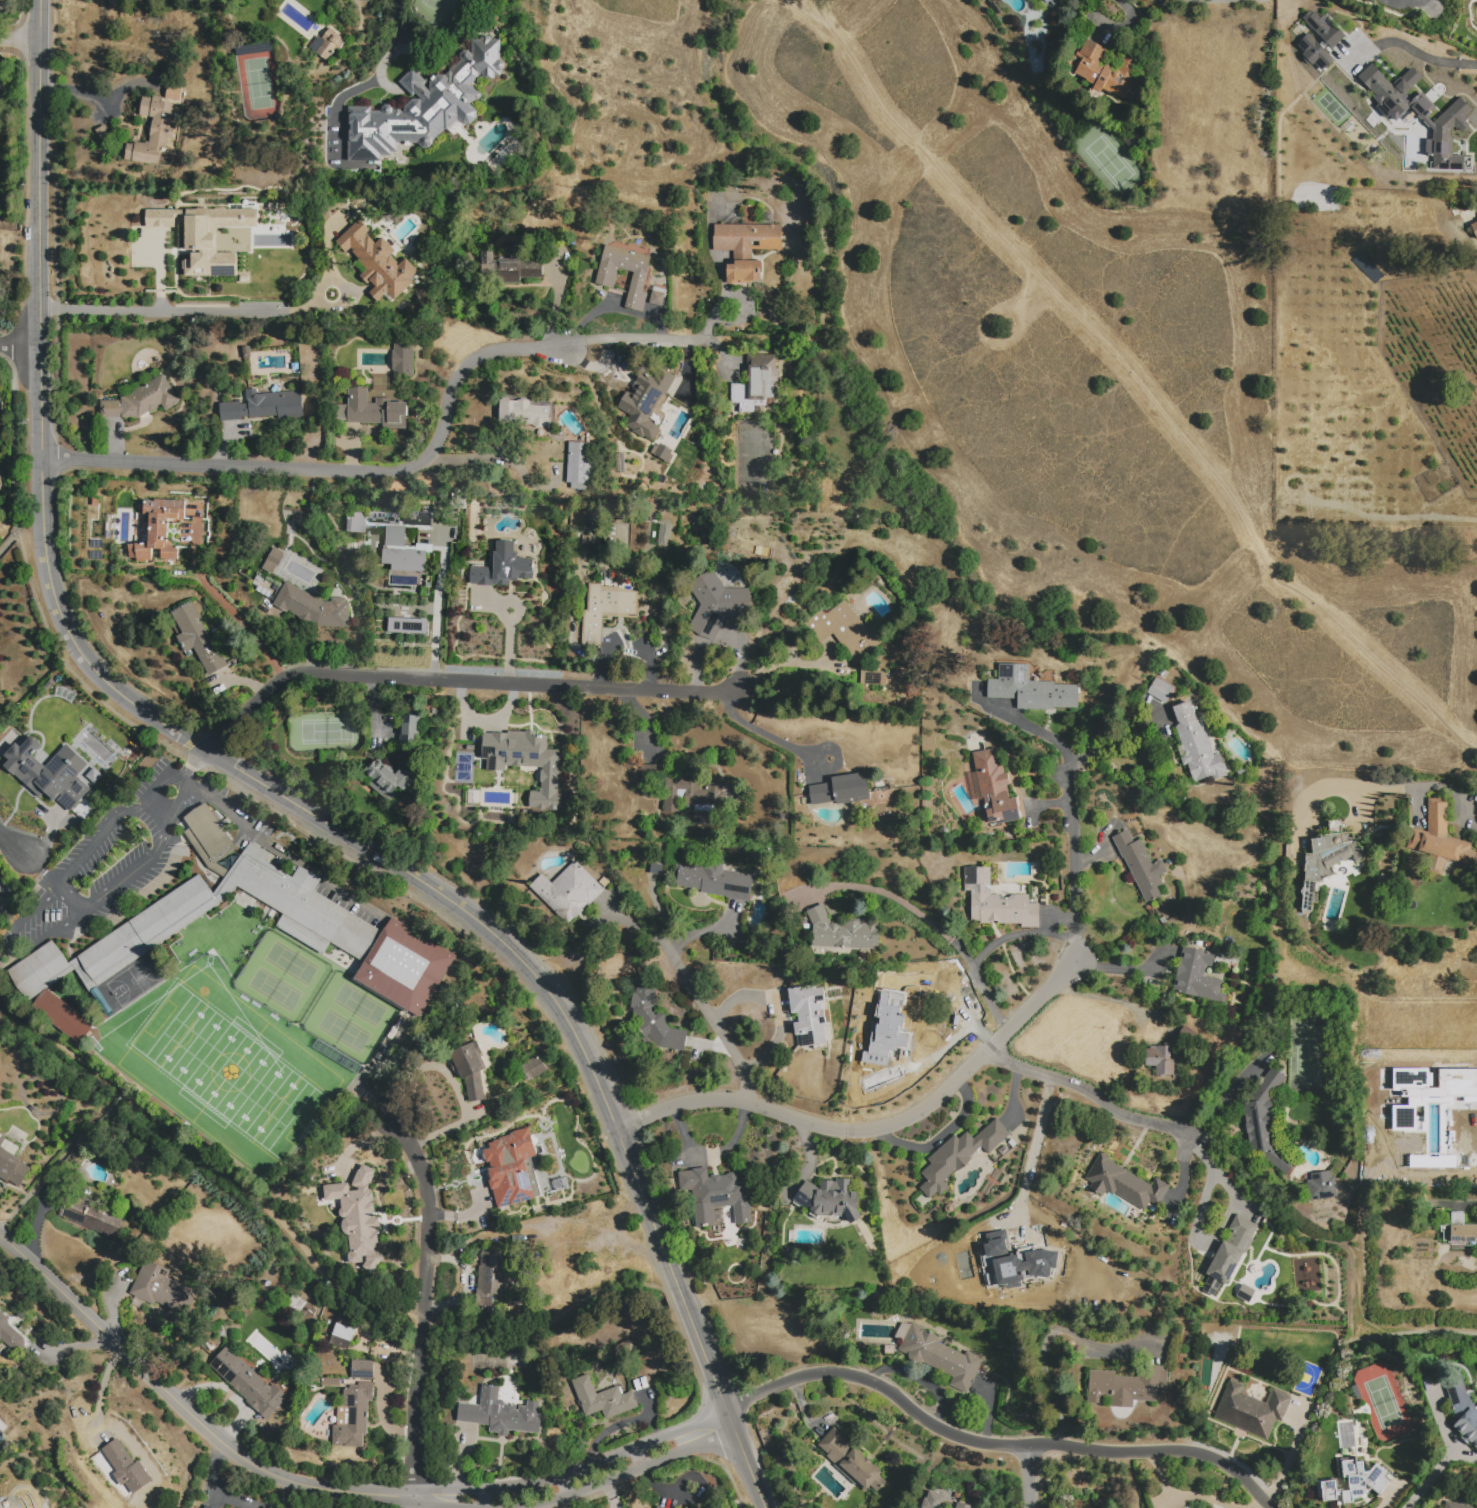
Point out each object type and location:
building: (1051, 2)
road: (1416, 3)
road: (822, 17)
road: (400, 23)
building: (1476, 24)
building: (1321, 27)
road: (19, 42)
building: (330, 44)
building: (1313, 52)
road: (1421, 56)
road: (387, 57)
building: (1108, 73)
road: (77, 92)
road: (337, 104)
building: (423, 106)
building: (1331, 110)
building: (1428, 123)
building: (1352, 126)
building: (152, 132)
building: (1474, 229)
building: (203, 234)
building: (746, 248)
building: (377, 263)
building: (518, 270)
building: (606, 278)
road: (339, 285)
building: (659, 290)
building: (657, 298)
road: (181, 311)
road: (636, 337)
road: (19, 345)
building: (403, 360)
park: (1029, 360)
road: (1131, 374)
building: (757, 382)
building: (142, 400)
building: (645, 401)
building: (265, 406)
building: (371, 410)
building: (524, 413)
road: (495, 455)
building: (579, 464)
road: (338, 469)
building: (384, 518)
building: (418, 519)
building: (358, 523)
building: (159, 529)
building: (700, 531)
road: (18, 532)
building: (394, 536)
building: (617, 540)
building: (271, 559)
building: (405, 559)
building: (503, 567)
building: (716, 604)
building: (399, 606)
building: (312, 607)
building: (605, 610)
road: (436, 622)
road: (245, 625)
building: (408, 625)
building: (846, 633)
building: (197, 637)
building: (958, 664)
road: (783, 668)
building: (1162, 673)
road: (72, 674)
building: (871, 677)
road: (457, 681)
building: (1030, 690)
building: (1160, 691)
road: (1025, 725)
building: (410, 729)
road: (766, 735)
road: (1115, 739)
road: (7, 741)
building: (1196, 742)
building: (526, 763)
road: (193, 764)
building: (652, 769)
building: (48, 772)
building: (1242, 772)
building: (389, 777)
road: (186, 781)
road: (1423, 786)
building: (892, 787)
building: (992, 788)
building: (840, 789)
building: (881, 789)
road: (275, 791)
building: (690, 792)
building: (474, 798)
road: (160, 808)
building: (1008, 834)
building: (208, 836)
building: (1440, 840)
road: (13, 843)
road: (87, 849)
building: (1288, 852)
road: (285, 853)
building: (1327, 859)
road: (1072, 861)
building: (1141, 865)
parking lot: (116, 866)
building: (656, 868)
road: (42, 871)
building: (714, 880)
building: (604, 882)
road: (115, 885)
building: (568, 890)
road: (69, 899)
building: (999, 902)
park: (1, 904)
building: (309, 909)
road: (937, 928)
building: (842, 932)
road: (1016, 934)
building: (1199, 944)
building: (1208, 945)
road: (5, 950)
building: (404, 966)
road: (1125, 968)
building: (37, 969)
park: (282, 976)
building: (1197, 977)
park: (134, 980)
road: (1099, 999)
road: (775, 1009)
road: (970, 1013)
building: (60, 1017)
building: (810, 1017)
park: (350, 1018)
building: (655, 1020)
road: (715, 1023)
building: (891, 1024)
park: (194, 1044)
road: (932, 1056)
building: (1161, 1059)
building: (533, 1067)
building: (470, 1070)
park: (228, 1072)
park: (229, 1072)
road: (1085, 1091)
building: (1429, 1098)
building: (1265, 1123)
road: (872, 1128)
road: (940, 1136)
building: (958, 1156)
road: (60, 1157)
road: (1029, 1161)
building: (11, 1162)
building: (512, 1168)
road: (1181, 1170)
building: (1124, 1185)
building: (1321, 1186)
road: (1206, 1189)
building: (716, 1195)
building: (829, 1199)
road: (1231, 1206)
building: (90, 1214)
building: (358, 1219)
road: (1295, 1227)
building: (1459, 1231)
building: (1230, 1252)
road: (308, 1255)
building: (1061, 1259)
building: (1001, 1273)
building: (490, 1279)
building: (161, 1288)
road: (425, 1298)
building: (10, 1333)
building: (343, 1333)
road: (1415, 1333)
road: (1047, 1337)
building: (938, 1355)
building: (363, 1369)
building: (246, 1382)
building: (330, 1382)
building: (1127, 1386)
building: (602, 1399)
building: (1463, 1409)
road: (185, 1410)
building: (1252, 1410)
building: (499, 1413)
building: (353, 1415)
road: (1317, 1420)
road: (992, 1444)
road: (1288, 1458)
building: (851, 1461)
building: (124, 1466)
road: (574, 1471)
road: (629, 1472)
road: (1029, 1476)
road: (1431, 1476)
road: (1131, 1480)
building: (1353, 1483)
road: (610, 1495)
road: (485, 1498)
building: (934, 1499)
road: (230, 1501)
road: (413, 1501)
road: (435, 1501)
building: (1456, 1503)
building: (205, 1506)
building: (962, 1506)
road: (537, 1507)
building: (659, 1507)

